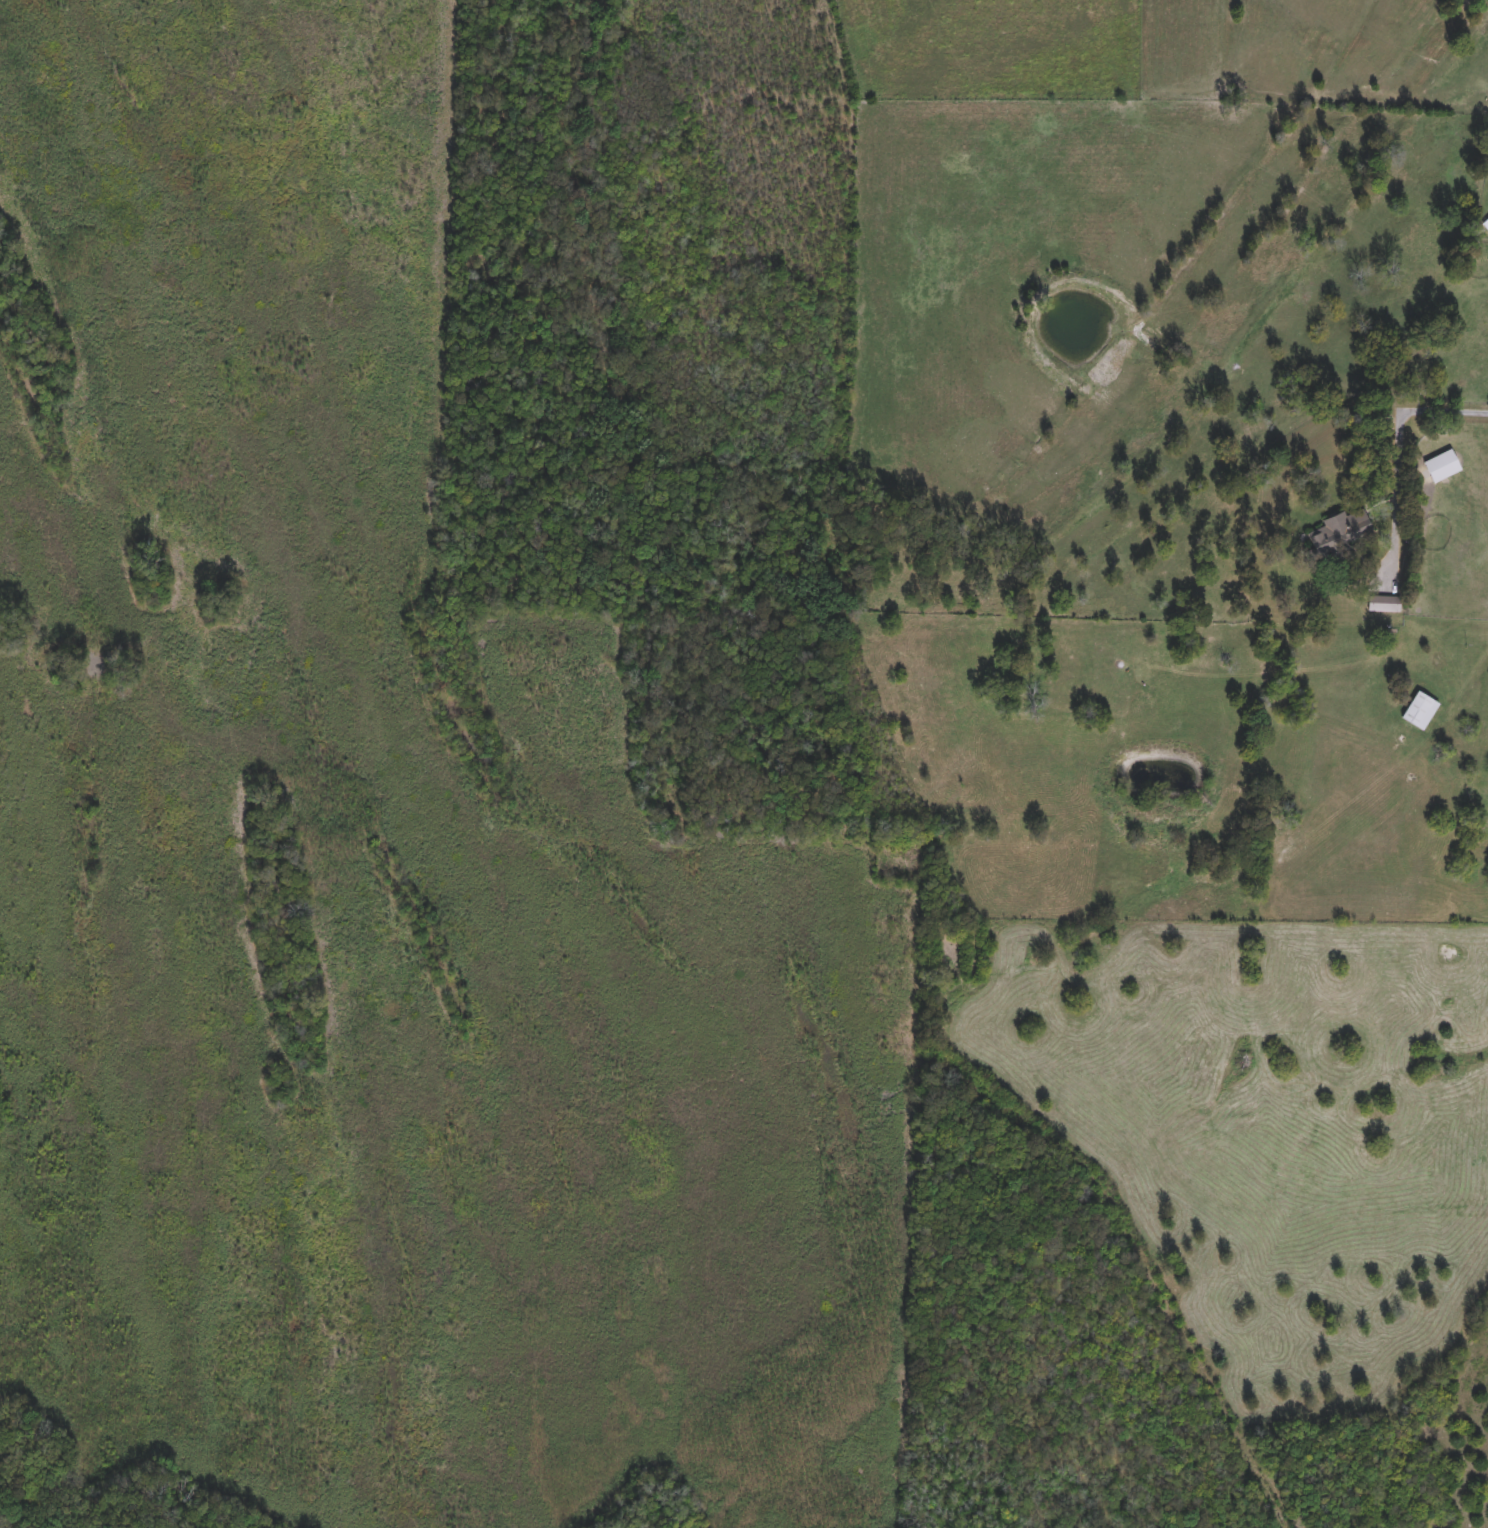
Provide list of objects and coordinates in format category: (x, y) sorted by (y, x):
road: (1398, 463)
building: (1443, 466)
building: (1338, 532)
building: (1391, 605)
building: (1421, 711)

